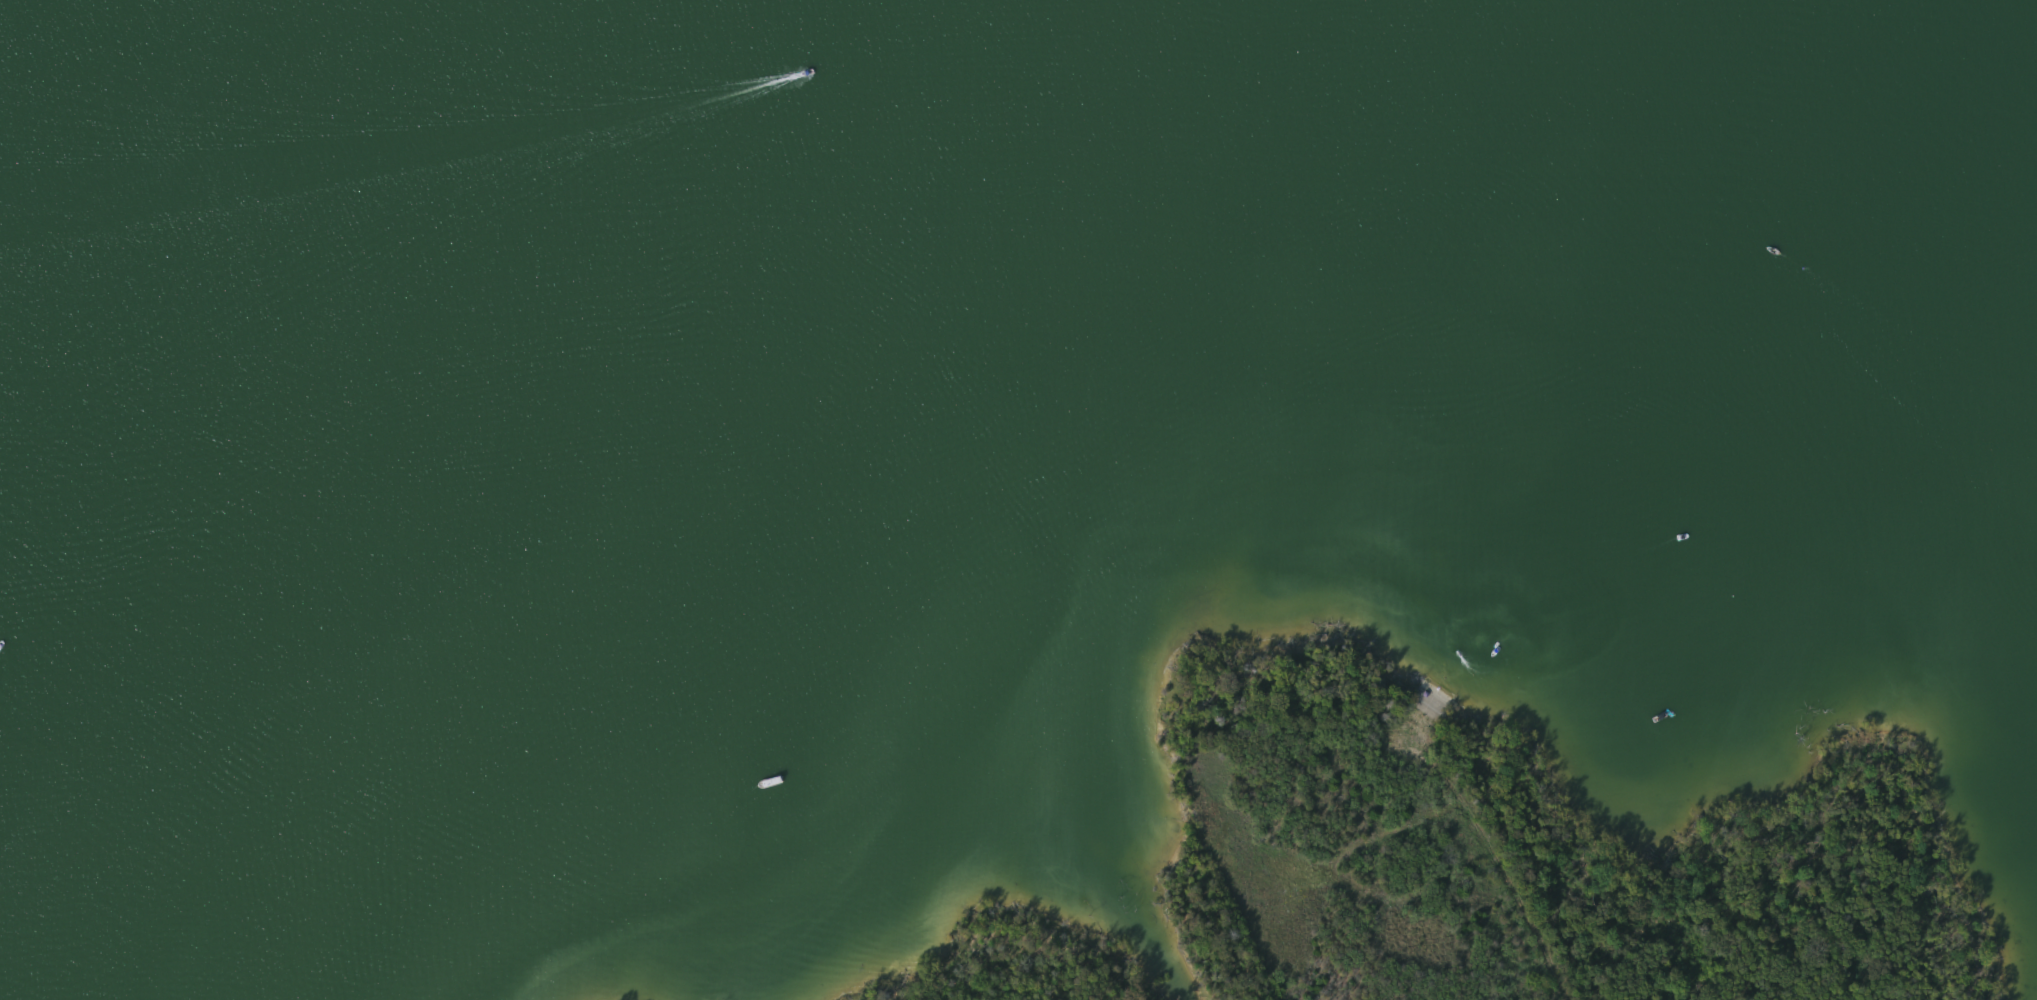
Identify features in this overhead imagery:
park: (1527, 849)
park: (1033, 962)

